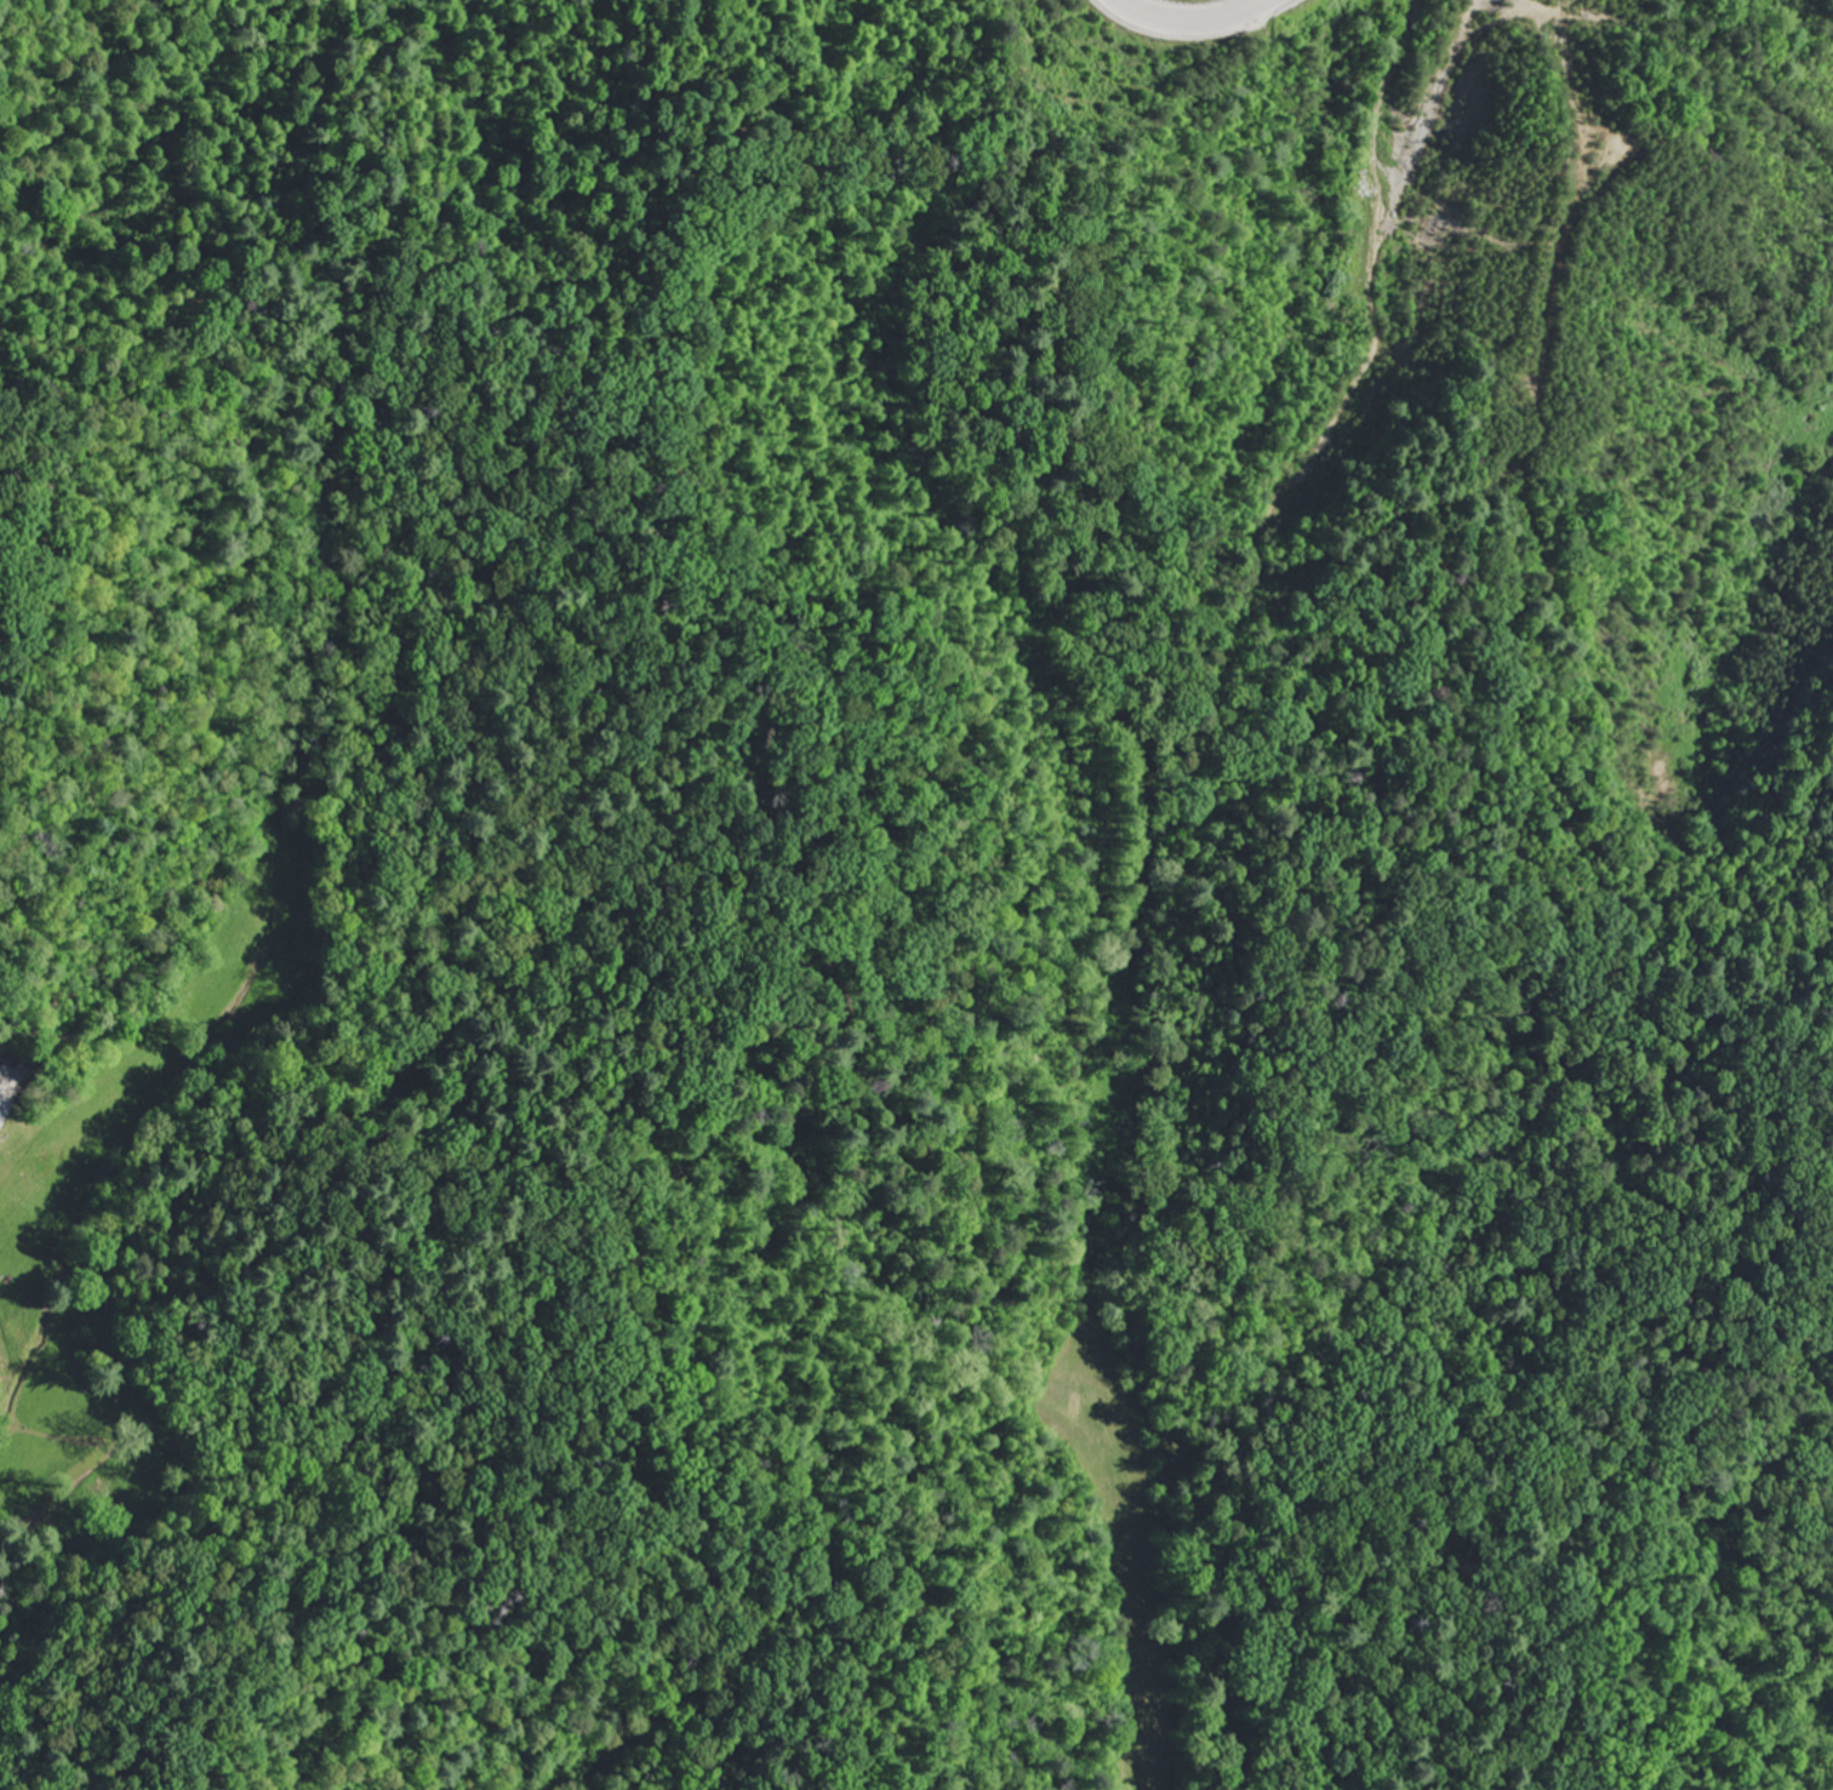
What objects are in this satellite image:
road: (1201, 18)
building: (0, 1060)

